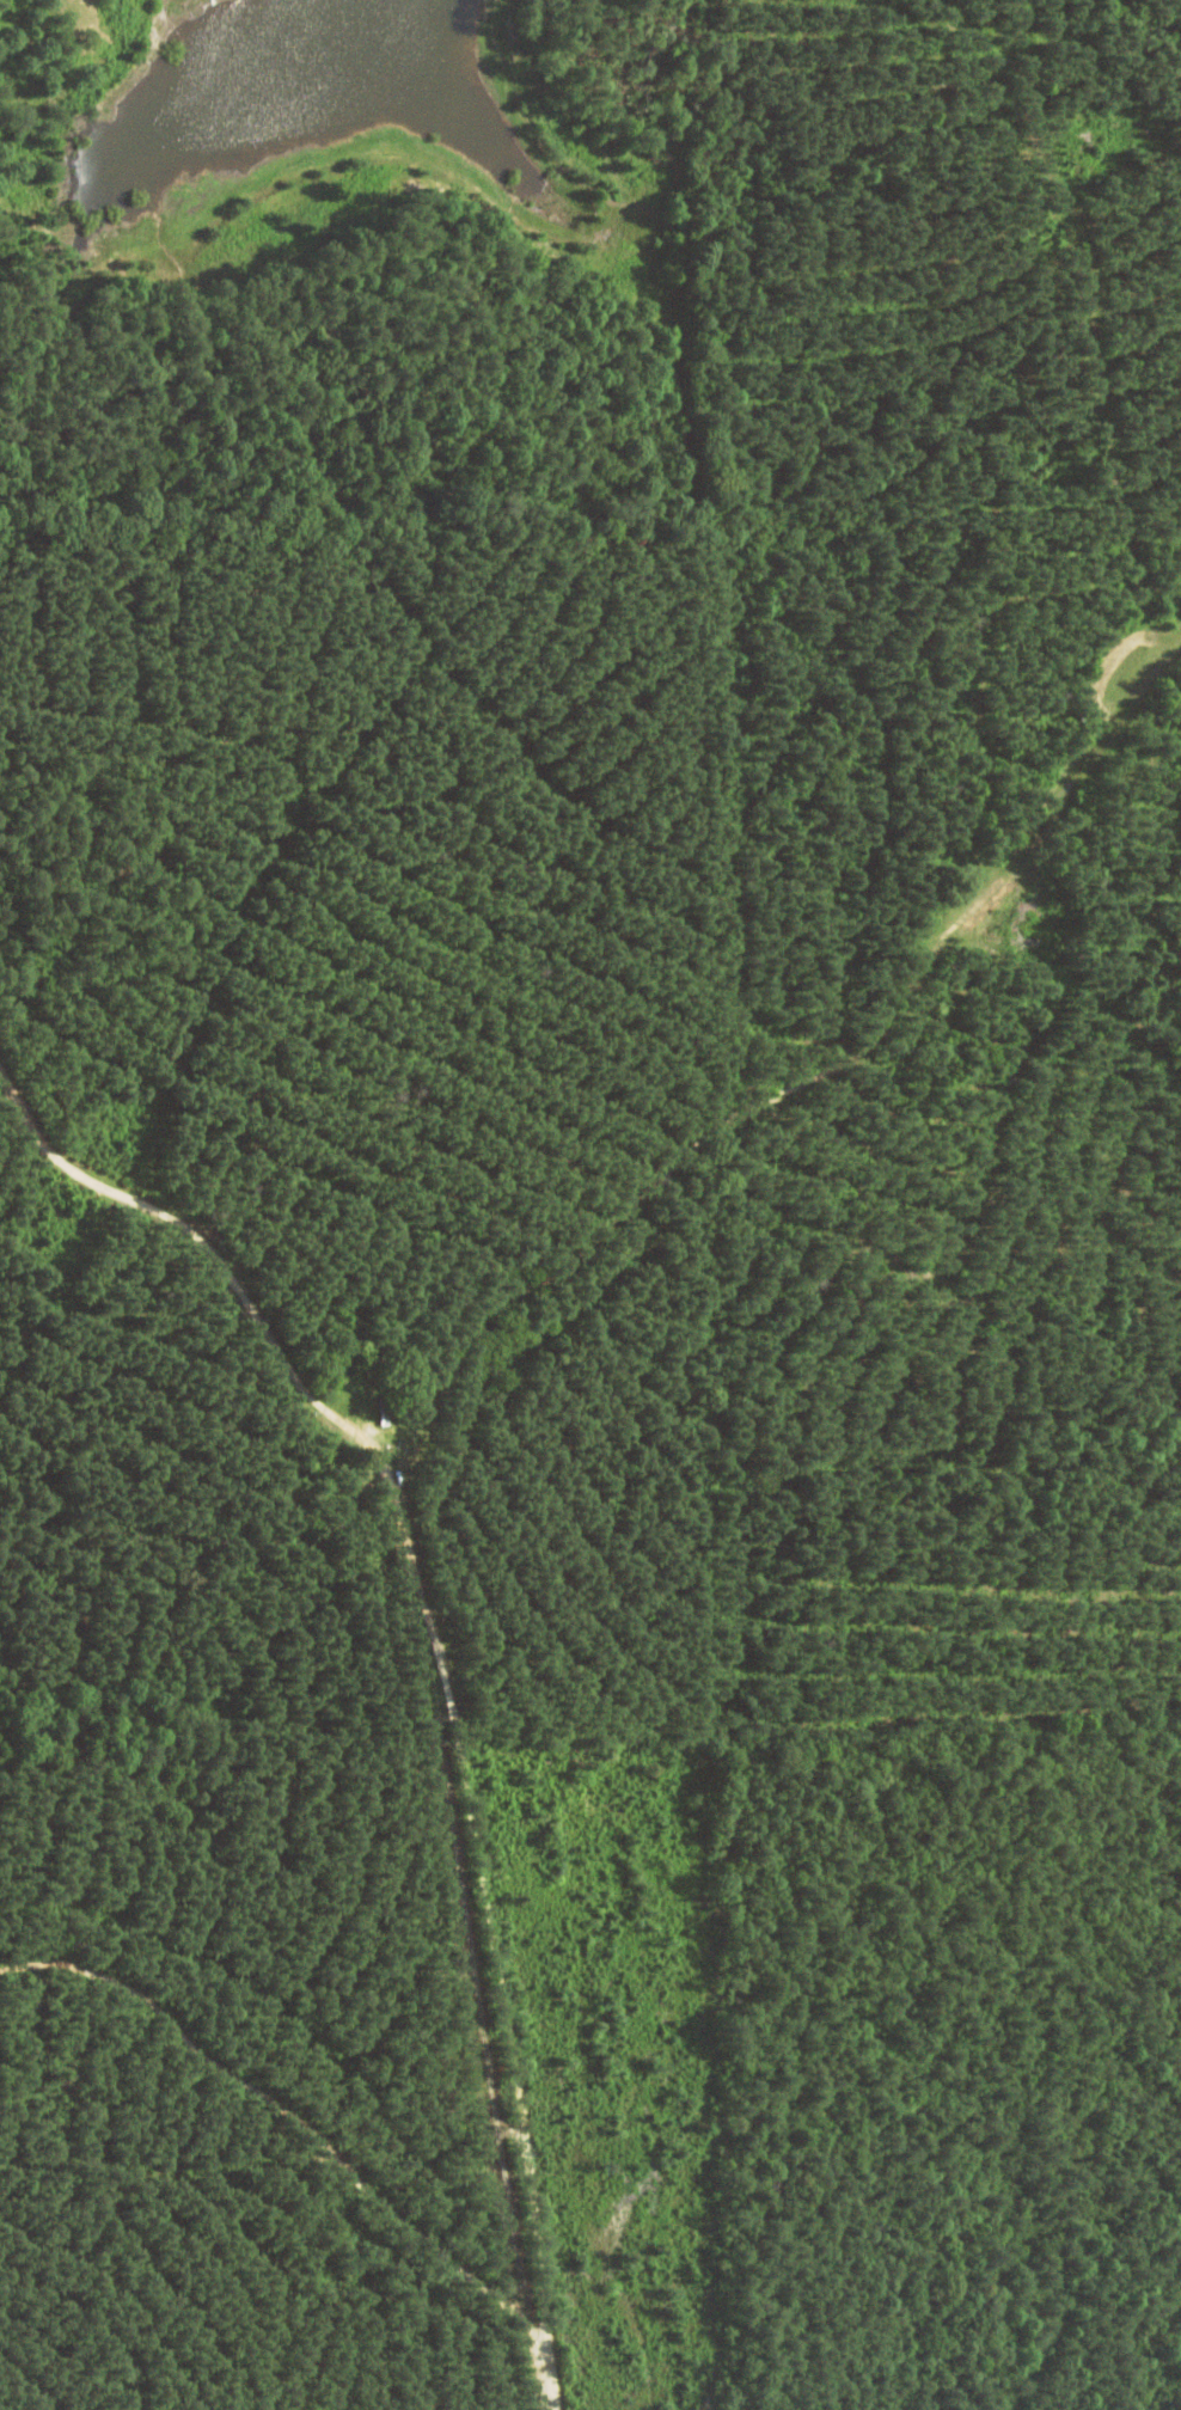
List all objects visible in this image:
road: (439, 1660)

